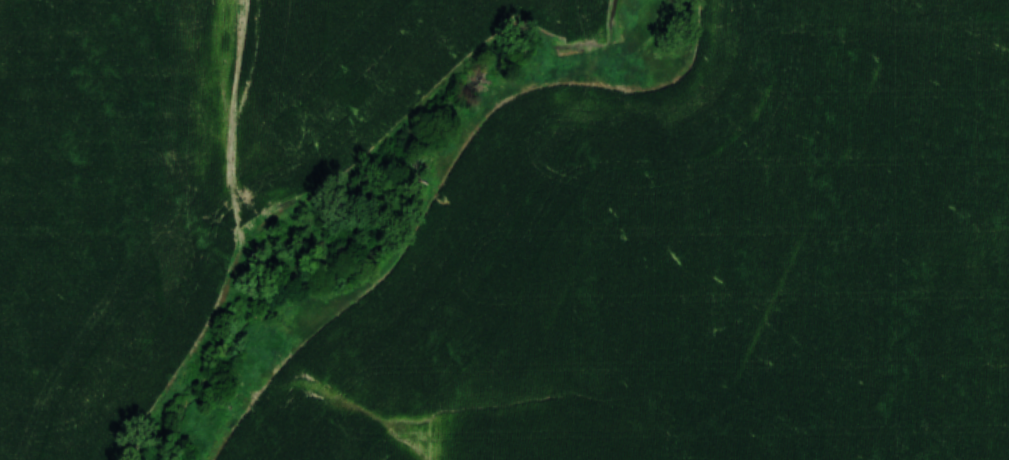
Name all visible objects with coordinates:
crop: (354, 80)
crop: (107, 213)
crop: (696, 262)

